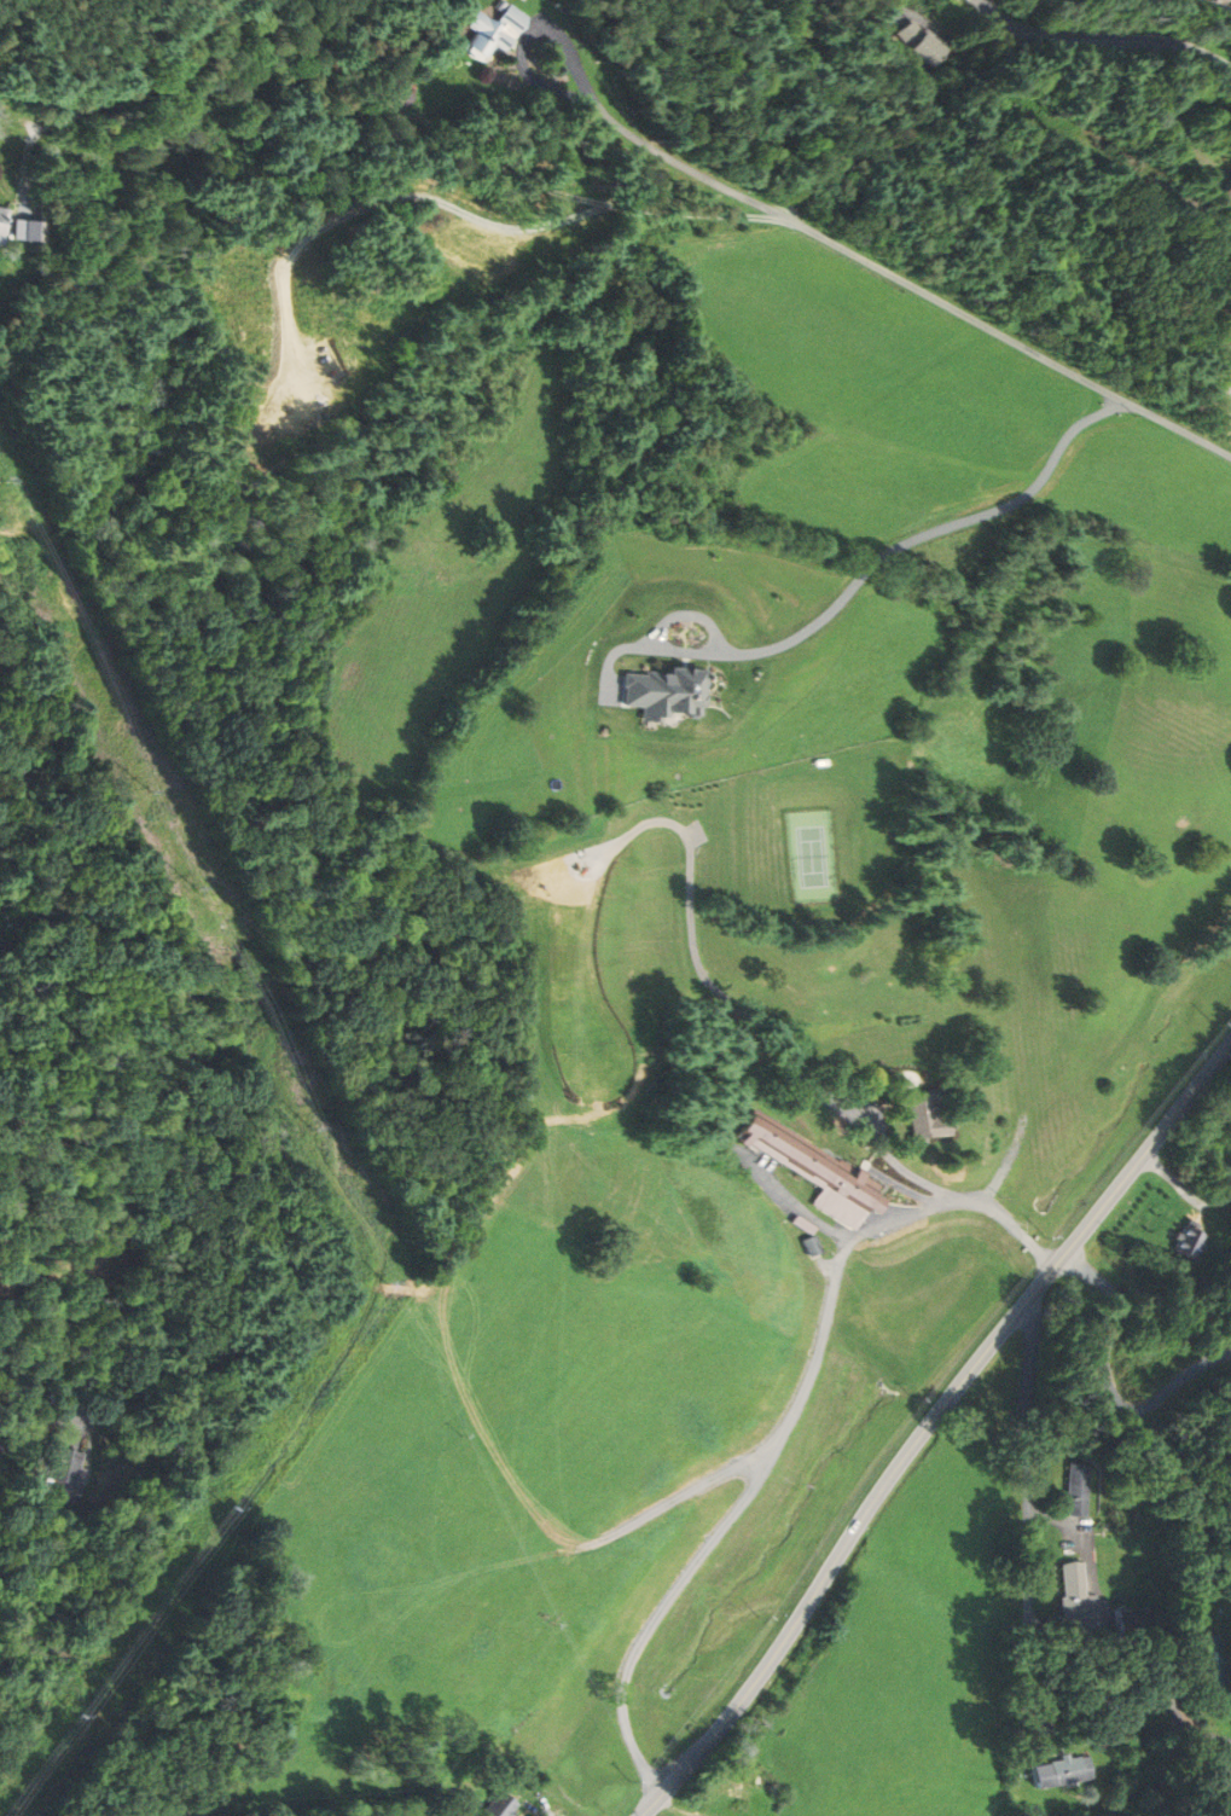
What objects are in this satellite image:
building: (1219, 4)
road: (894, 8)
building: (493, 29)
road: (1104, 40)
building: (921, 43)
road: (526, 46)
road: (366, 85)
building: (397, 85)
road: (1168, 114)
road: (451, 204)
building: (2, 225)
road: (906, 283)
road: (1229, 398)
road: (860, 579)
power tower: (150, 791)
power tower: (194, 887)
road: (818, 1090)
building: (936, 1113)
power tower: (312, 1129)
building: (812, 1174)
building: (1192, 1243)
power tower: (385, 1283)
road: (1029, 1371)
road: (1110, 1383)
road: (74, 1423)
road: (929, 1426)
road: (27, 1435)
building: (66, 1475)
road: (759, 1476)
building: (1081, 1490)
power tower: (226, 1507)
building: (1072, 1595)
building: (1125, 1625)
building: (1212, 1663)
building: (649, 1669)
road: (1028, 1682)
power tower: (75, 1716)
building: (1052, 1774)
building: (738, 1785)

